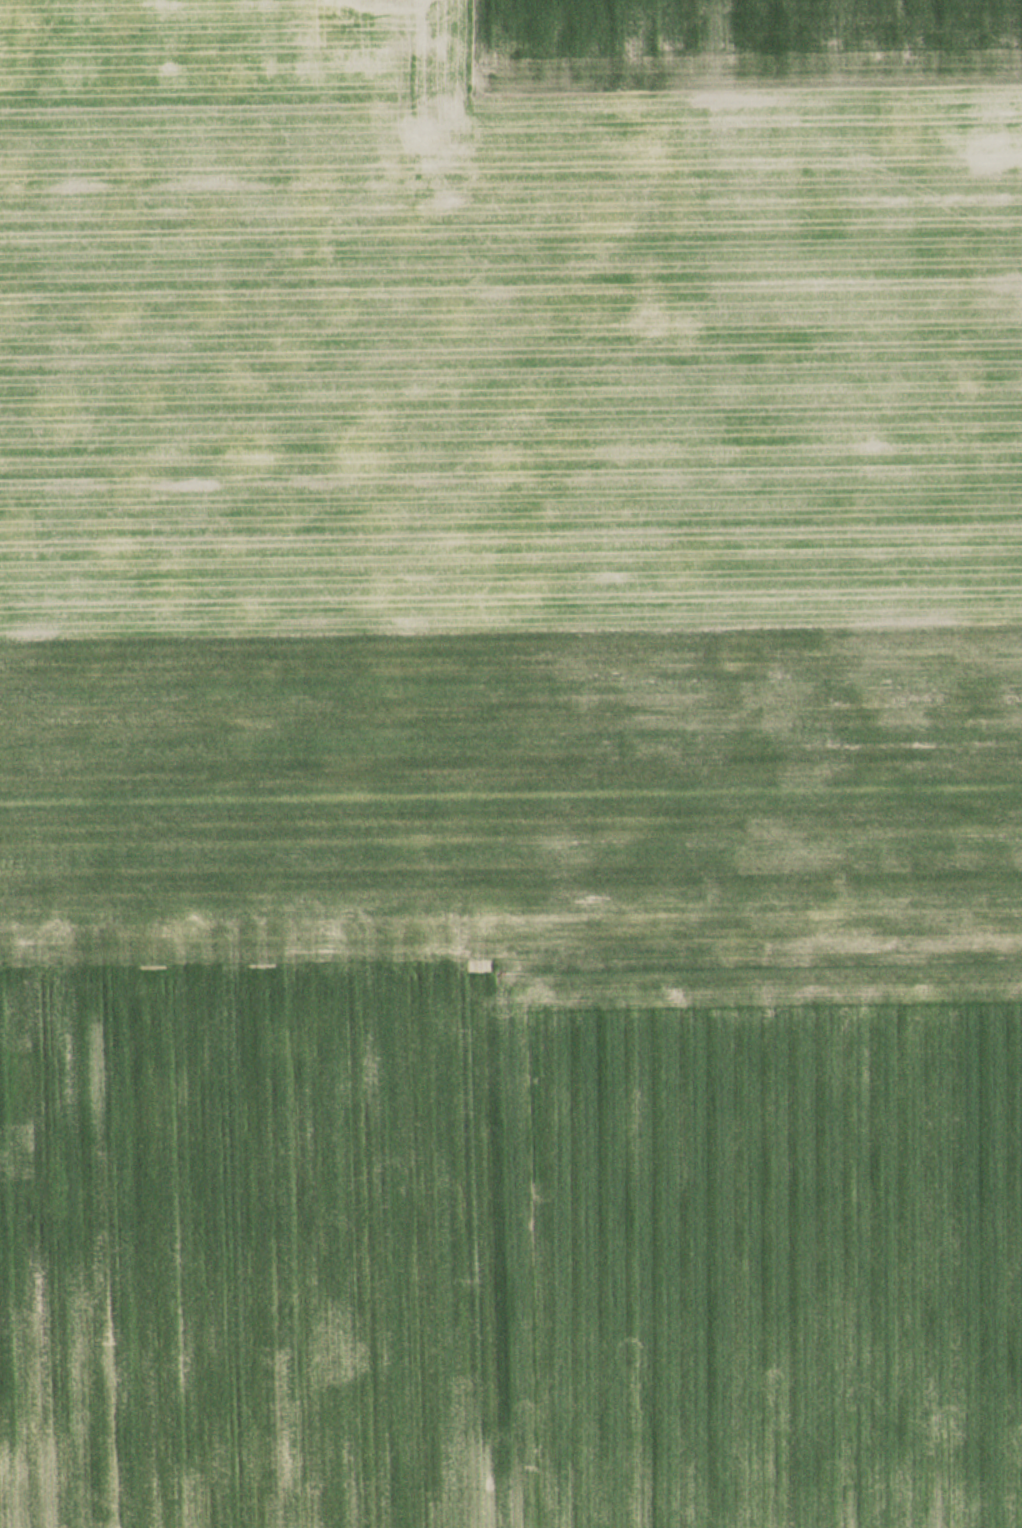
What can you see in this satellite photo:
crop: (736, 36)
crop: (229, 43)
crop: (449, 695)
crop: (1011, 1215)
crop: (757, 1242)

